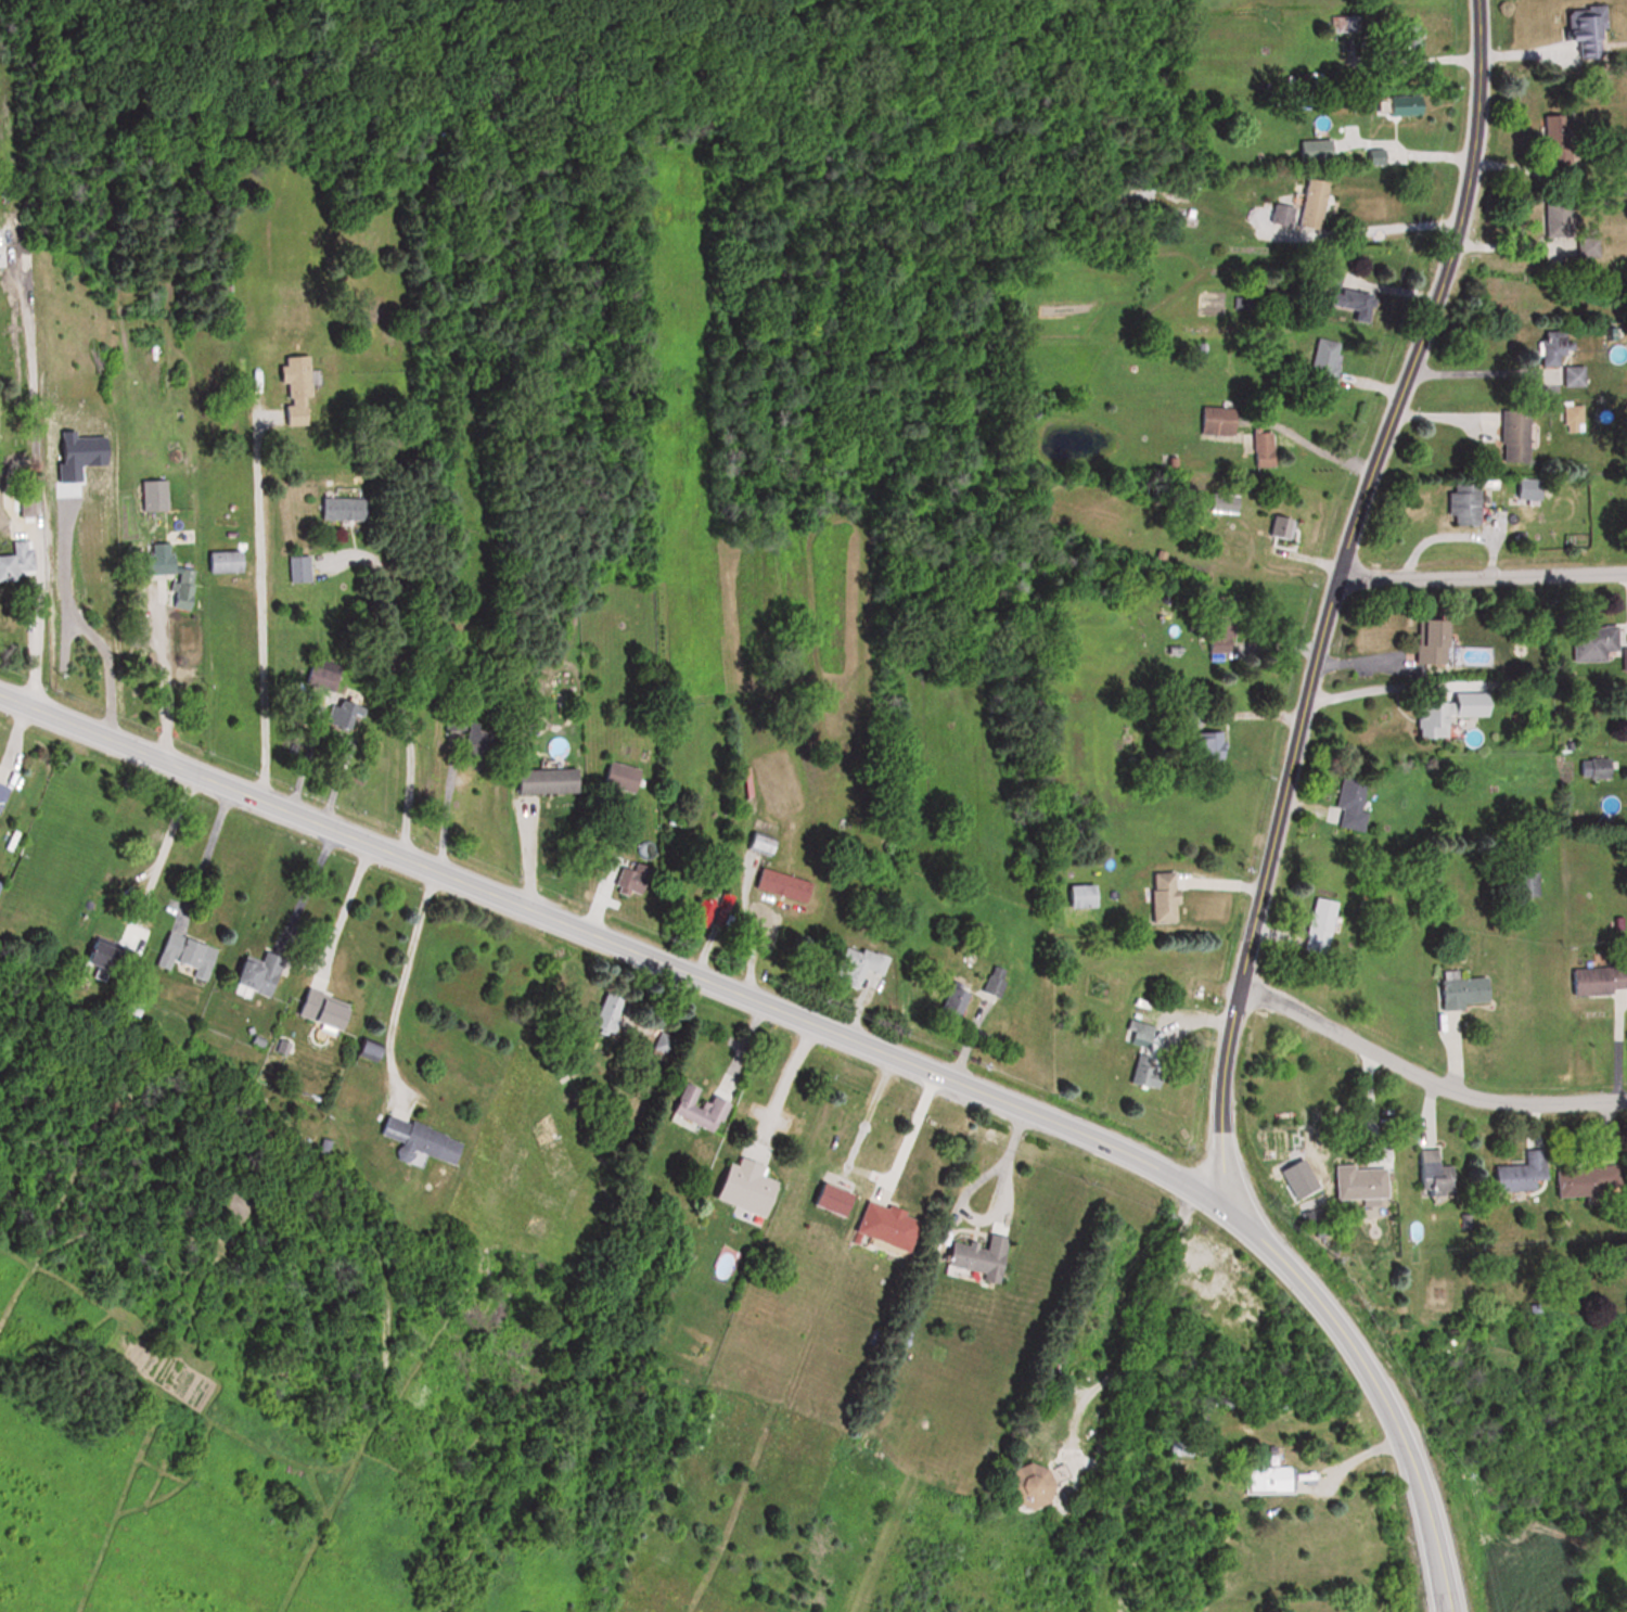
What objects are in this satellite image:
building: (1405, 31)
building: (1347, 39)
building: (1573, 39)
road: (1410, 56)
building: (1397, 104)
building: (1550, 136)
building: (1311, 148)
road: (1401, 152)
building: (1306, 202)
building: (1277, 214)
road: (1386, 226)
building: (1583, 246)
building: (1335, 292)
building: (1547, 346)
building: (1319, 361)
road: (1474, 370)
building: (1567, 375)
building: (303, 391)
building: (1210, 420)
building: (1511, 435)
road: (1310, 445)
building: (1258, 448)
building: (1524, 489)
building: (158, 495)
building: (1224, 500)
building: (1457, 502)
building: (348, 509)
building: (1277, 526)
building: (18, 562)
building: (230, 562)
building: (304, 570)
building: (176, 573)
road: (1481, 575)
road: (257, 609)
building: (1214, 623)
road: (34, 636)
building: (1423, 640)
building: (1590, 641)
building: (1622, 656)
building: (325, 674)
building: (354, 713)
building: (1425, 718)
building: (486, 734)
building: (1203, 744)
building: (1597, 767)
building: (617, 779)
building: (554, 781)
building: (4, 793)
building: (1345, 804)
road: (1272, 820)
building: (769, 839)
road: (159, 853)
building: (636, 879)
building: (1521, 883)
building: (787, 884)
building: (1157, 896)
road: (342, 911)
building: (1317, 923)
building: (107, 951)
building: (190, 954)
building: (868, 960)
road: (668, 967)
building: (262, 973)
building: (1590, 980)
road: (398, 984)
building: (1458, 989)
building: (330, 1008)
building: (614, 1012)
building: (1142, 1033)
building: (1174, 1044)
building: (1161, 1077)
road: (1422, 1078)
road: (783, 1080)
building: (704, 1105)
building: (427, 1139)
road: (864, 1172)
building: (1429, 1174)
building: (1513, 1174)
building: (1584, 1181)
building: (1354, 1184)
building: (755, 1187)
building: (896, 1225)
building: (988, 1257)
road: (1157, 1335)
building: (1259, 1476)

